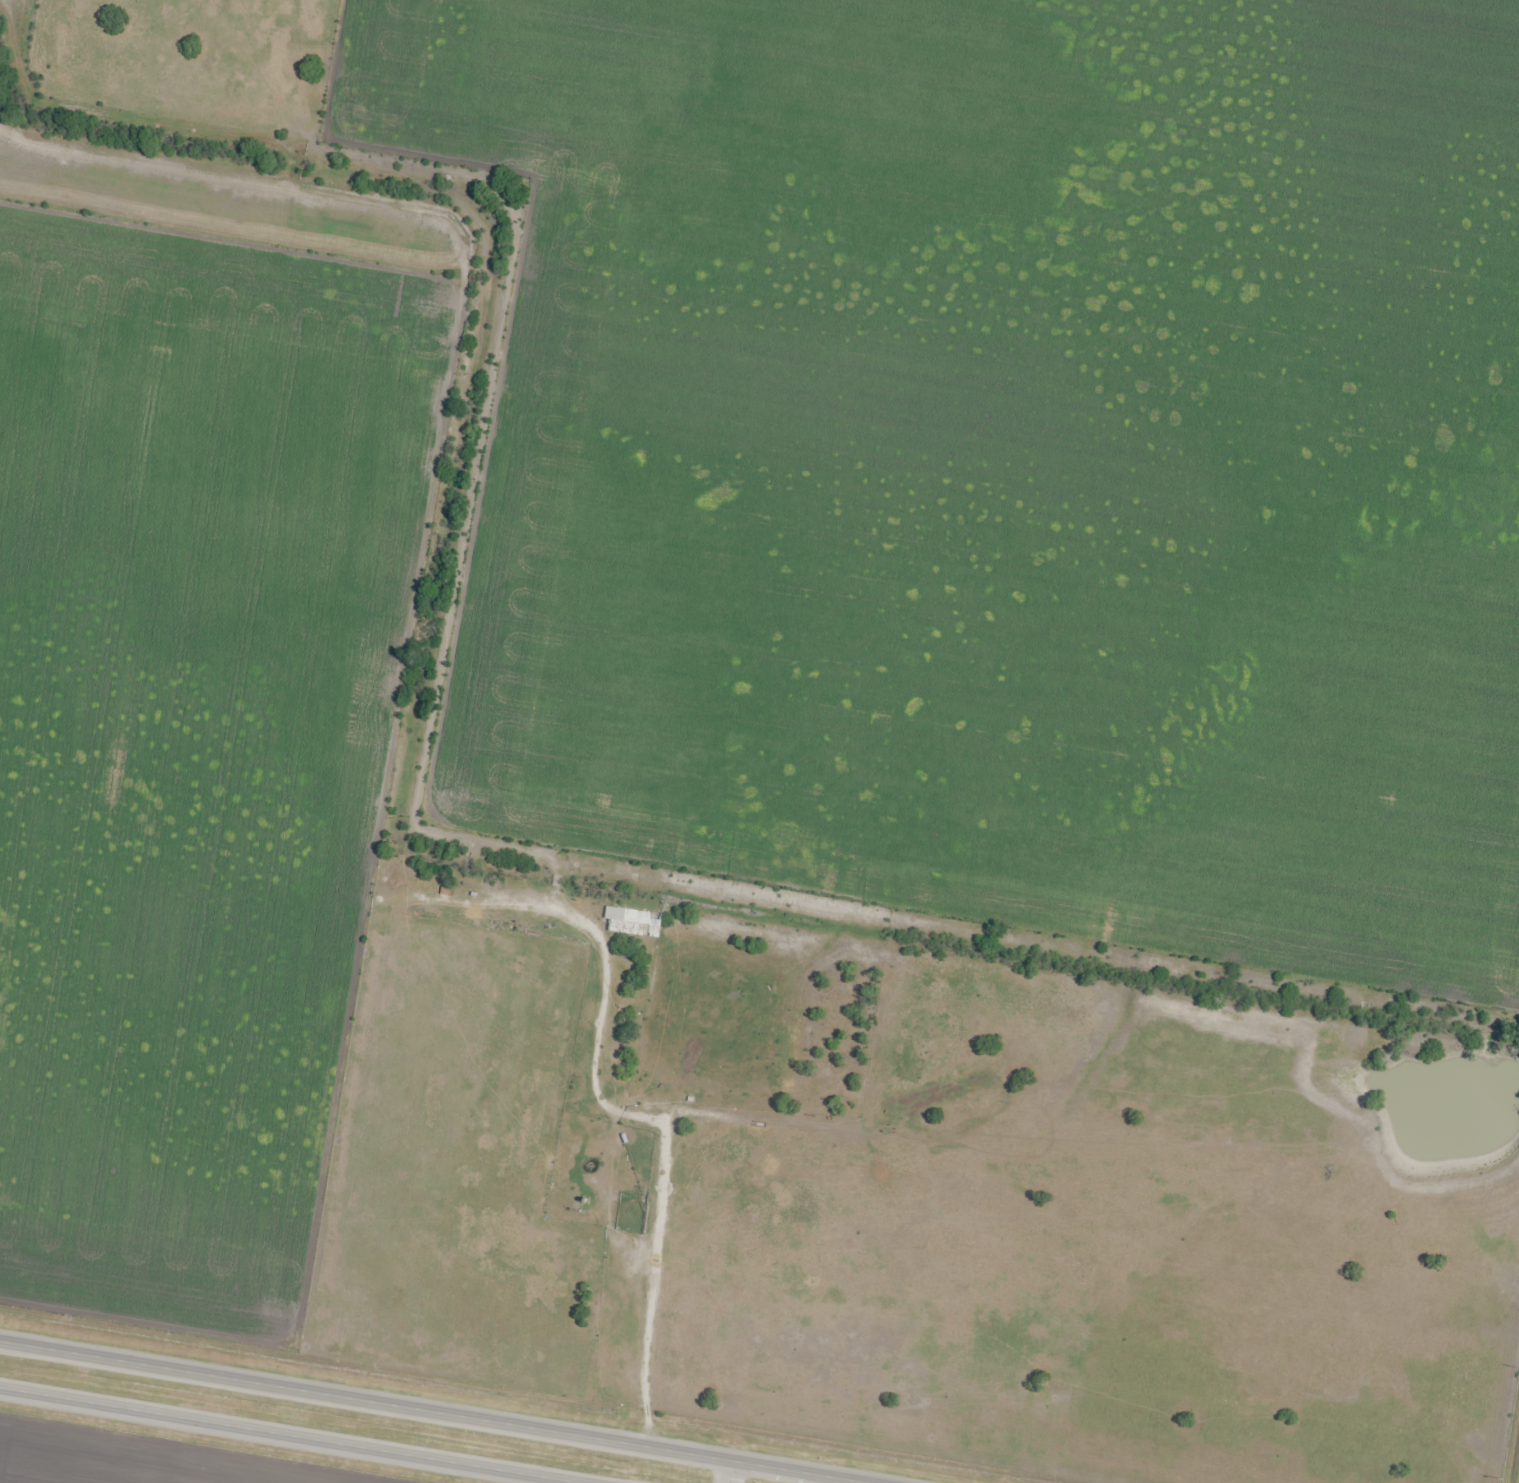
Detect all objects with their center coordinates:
building: (633, 922)
road: (436, 1411)
road: (293, 1435)
road: (727, 1471)

